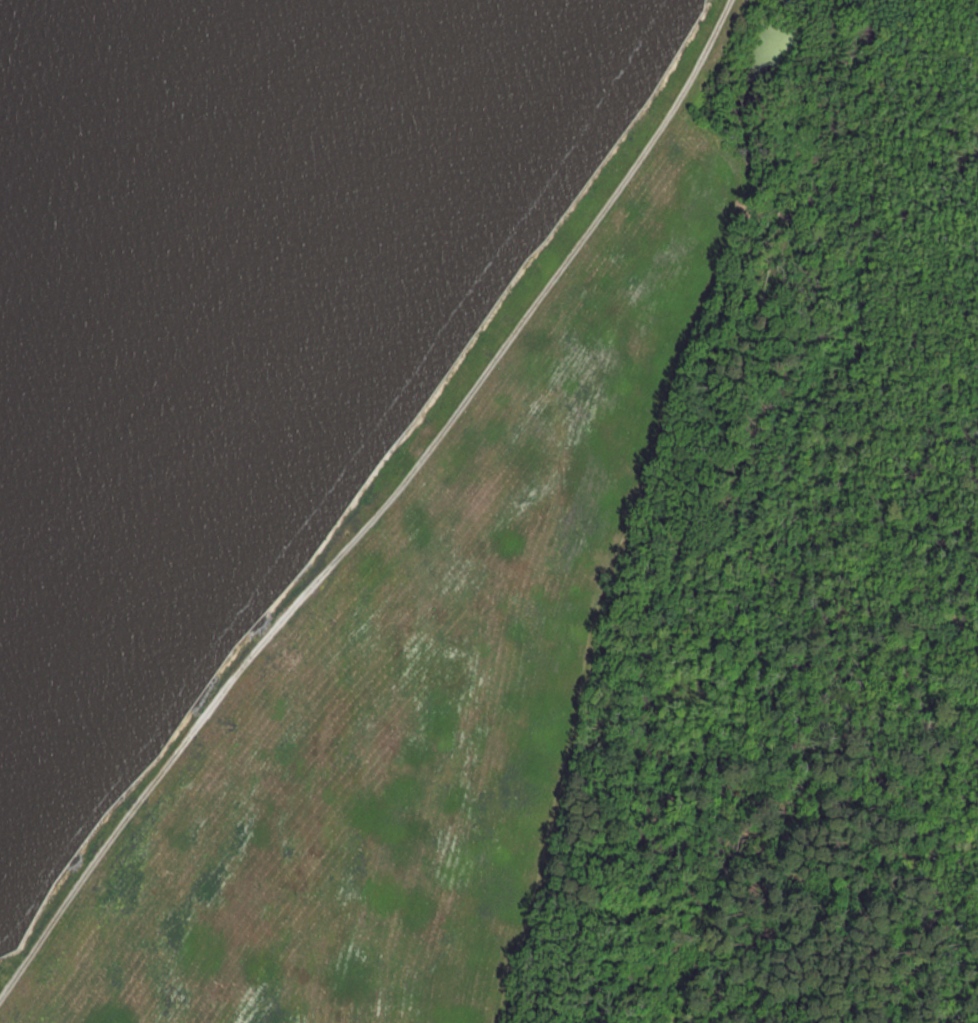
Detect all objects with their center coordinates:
road: (514, 333)
road: (635, 531)
road: (158, 774)

